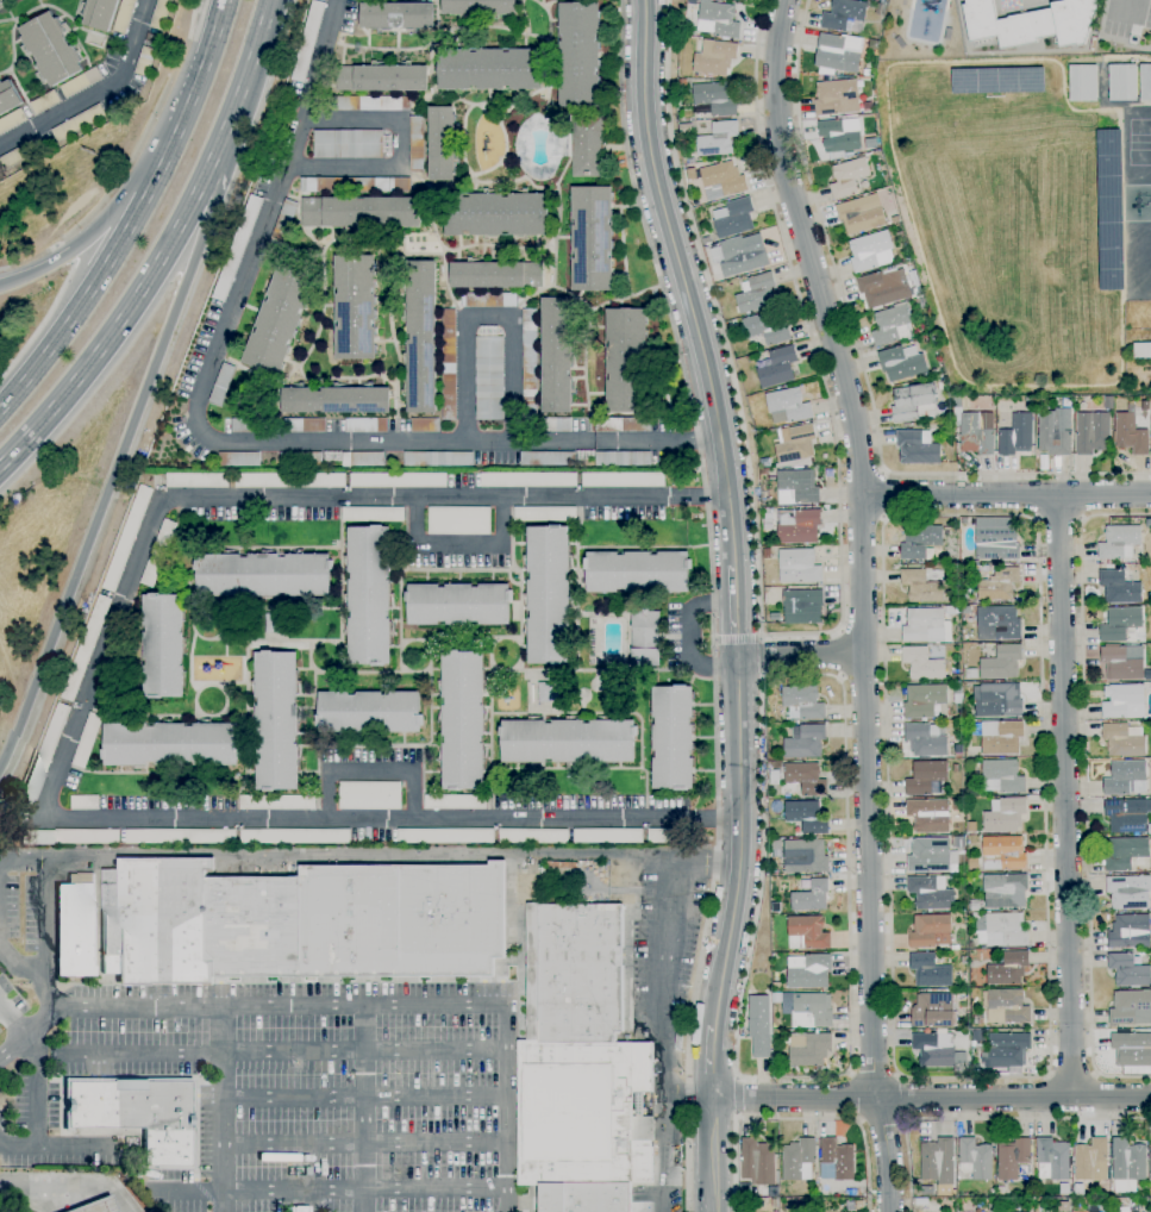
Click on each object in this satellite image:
building: (0, 0)
building: (0, 1)
road: (1116, 1)
road: (1130, 5)
building: (478, 7)
building: (880, 10)
building: (99, 13)
building: (159, 14)
building: (124, 15)
building: (398, 15)
building: (845, 15)
parking lot: (1126, 15)
road: (192, 18)
building: (718, 19)
building: (1031, 23)
building: (307, 40)
building: (50, 49)
building: (838, 54)
building: (578, 55)
building: (714, 57)
building: (144, 61)
building: (489, 69)
building: (381, 79)
building: (997, 80)
building: (80, 82)
building: (682, 82)
building: (1122, 82)
building: (1145, 82)
building: (1082, 83)
road: (96, 93)
building: (8, 96)
building: (837, 98)
building: (713, 100)
building: (43, 102)
building: (368, 104)
building: (11, 120)
building: (77, 123)
building: (684, 129)
building: (840, 137)
building: (718, 139)
park: (1140, 143)
building: (348, 144)
building: (417, 144)
building: (442, 144)
building: (588, 146)
road: (398, 151)
building: (19, 155)
building: (686, 156)
road: (121, 177)
building: (847, 177)
building: (719, 180)
building: (356, 185)
road: (121, 194)
building: (1108, 210)
building: (359, 212)
building: (495, 214)
building: (861, 214)
road: (135, 217)
building: (733, 218)
building: (895, 219)
building: (283, 220)
building: (592, 238)
building: (707, 242)
building: (236, 248)
road: (163, 249)
road: (207, 250)
building: (870, 251)
road: (62, 255)
building: (739, 255)
building: (1140, 267)
building: (496, 275)
road: (686, 285)
building: (882, 288)
building: (756, 293)
building: (489, 300)
building: (355, 307)
road: (488, 313)
building: (277, 320)
road: (39, 324)
building: (893, 325)
building: (767, 329)
building: (421, 337)
building: (1141, 350)
building: (556, 355)
building: (626, 360)
building: (901, 363)
building: (449, 364)
building: (530, 367)
building: (777, 368)
road: (862, 368)
building: (489, 377)
building: (940, 377)
building: (221, 383)
building: (334, 400)
building: (1150, 401)
building: (913, 402)
building: (1028, 404)
building: (1108, 404)
road: (138, 406)
building: (788, 406)
building: (304, 425)
building: (367, 425)
building: (424, 425)
building: (557, 425)
building: (623, 425)
building: (251, 426)
building: (974, 427)
building: (1055, 432)
building: (1093, 432)
building: (1131, 435)
building: (1016, 436)
road: (229, 442)
building: (795, 443)
building: (918, 448)
building: (621, 458)
building: (238, 460)
building: (300, 460)
building: (362, 460)
building: (438, 460)
building: (548, 460)
building: (764, 471)
building: (196, 480)
building: (290, 480)
building: (398, 480)
building: (527, 480)
building: (623, 480)
building: (796, 487)
road: (1006, 494)
road: (881, 495)
building: (373, 514)
building: (545, 514)
road: (1057, 518)
building: (459, 520)
building: (799, 526)
building: (127, 538)
building: (997, 538)
building: (767, 539)
building: (920, 541)
building: (1119, 543)
road: (457, 545)
building: (158, 552)
building: (767, 554)
building: (799, 567)
building: (637, 571)
building: (263, 575)
building: (186, 577)
building: (999, 583)
building: (921, 586)
building: (1119, 587)
building: (369, 595)
building: (548, 595)
road: (863, 600)
road: (711, 601)
building: (458, 604)
building: (802, 606)
building: (951, 611)
building: (965, 611)
road: (736, 613)
building: (999, 623)
building: (921, 624)
building: (1120, 624)
building: (271, 625)
road: (796, 635)
road: (689, 636)
building: (645, 638)
road: (761, 638)
road: (736, 639)
building: (162, 645)
building: (86, 648)
road: (759, 655)
road: (801, 655)
building: (1122, 662)
building: (1002, 663)
building: (922, 664)
building: (955, 671)
road: (762, 673)
building: (971, 673)
building: (957, 677)
building: (546, 692)
building: (957, 693)
building: (1121, 699)
building: (924, 700)
building: (996, 700)
building: (803, 702)
building: (369, 712)
road: (76, 719)
building: (275, 720)
building: (462, 721)
building: (673, 737)
building: (1001, 738)
building: (925, 739)
building: (87, 741)
building: (568, 741)
building: (1122, 741)
building: (805, 742)
building: (170, 744)
building: (958, 750)
building: (44, 755)
building: (956, 768)
road: (370, 770)
building: (1005, 775)
building: (774, 776)
building: (925, 776)
building: (806, 779)
building: (1126, 779)
road: (1084, 787)
building: (369, 795)
road: (1065, 795)
building: (85, 802)
building: (276, 802)
building: (455, 802)
building: (1005, 814)
building: (1127, 814)
building: (928, 816)
building: (807, 817)
building: (972, 827)
building: (179, 836)
building: (294, 836)
building: (446, 836)
building: (533, 836)
building: (608, 836)
building: (668, 836)
building: (70, 837)
road: (739, 841)
building: (958, 842)
building: (776, 844)
building: (1003, 852)
road: (337, 854)
building: (1125, 854)
building: (805, 856)
building: (931, 856)
road: (706, 863)
building: (974, 864)
building: (558, 871)
building: (772, 891)
building: (1005, 892)
building: (1128, 892)
building: (931, 893)
building: (556, 894)
building: (811, 896)
building: (974, 906)
building: (775, 907)
building: (300, 922)
building: (75, 925)
building: (931, 931)
building: (1003, 931)
building: (1130, 932)
road: (46, 933)
building: (807, 933)
building: (955, 948)
road: (19, 966)
building: (1009, 968)
building: (930, 970)
building: (1128, 970)
building: (811, 973)
building: (962, 997)
road: (280, 1005)
building: (1007, 1007)
building: (808, 1008)
building: (1131, 1008)
building: (933, 1011)
road: (13, 1019)
building: (759, 1026)
road: (29, 1032)
road: (662, 1038)
building: (677, 1041)
building: (809, 1049)
building: (933, 1049)
building: (1008, 1049)
building: (1131, 1049)
road: (271, 1050)
road: (714, 1061)
building: (580, 1066)
road: (1046, 1072)
road: (1071, 1074)
road: (871, 1075)
road: (826, 1077)
road: (736, 1079)
road: (37, 1085)
road: (364, 1094)
road: (736, 1098)
road: (852, 1098)
road: (931, 1098)
road: (687, 1099)
road: (901, 1099)
road: (224, 1107)
road: (506, 1107)
road: (364, 1108)
building: (138, 1113)
road: (736, 1116)
road: (983, 1118)
road: (843, 1119)
road: (882, 1122)
road: (364, 1142)
road: (17, 1147)
road: (73, 1147)
road: (714, 1155)
building: (837, 1158)
building: (1012, 1158)
building: (799, 1160)
building: (975, 1160)
building: (1052, 1160)
building: (1150, 1160)
building: (937, 1161)
building: (1090, 1161)
building: (758, 1162)
road: (733, 1164)
building: (1128, 1164)
road: (73, 1182)
road: (365, 1187)
building: (745, 1188)
building: (1064, 1189)
road: (193, 1191)
building: (927, 1191)
building: (918, 1201)
building: (98, 1206)
gas station: (98, 1206)
building: (1063, 1206)
road: (4, 1207)
building: (296, 1208)
building: (990, 1208)

